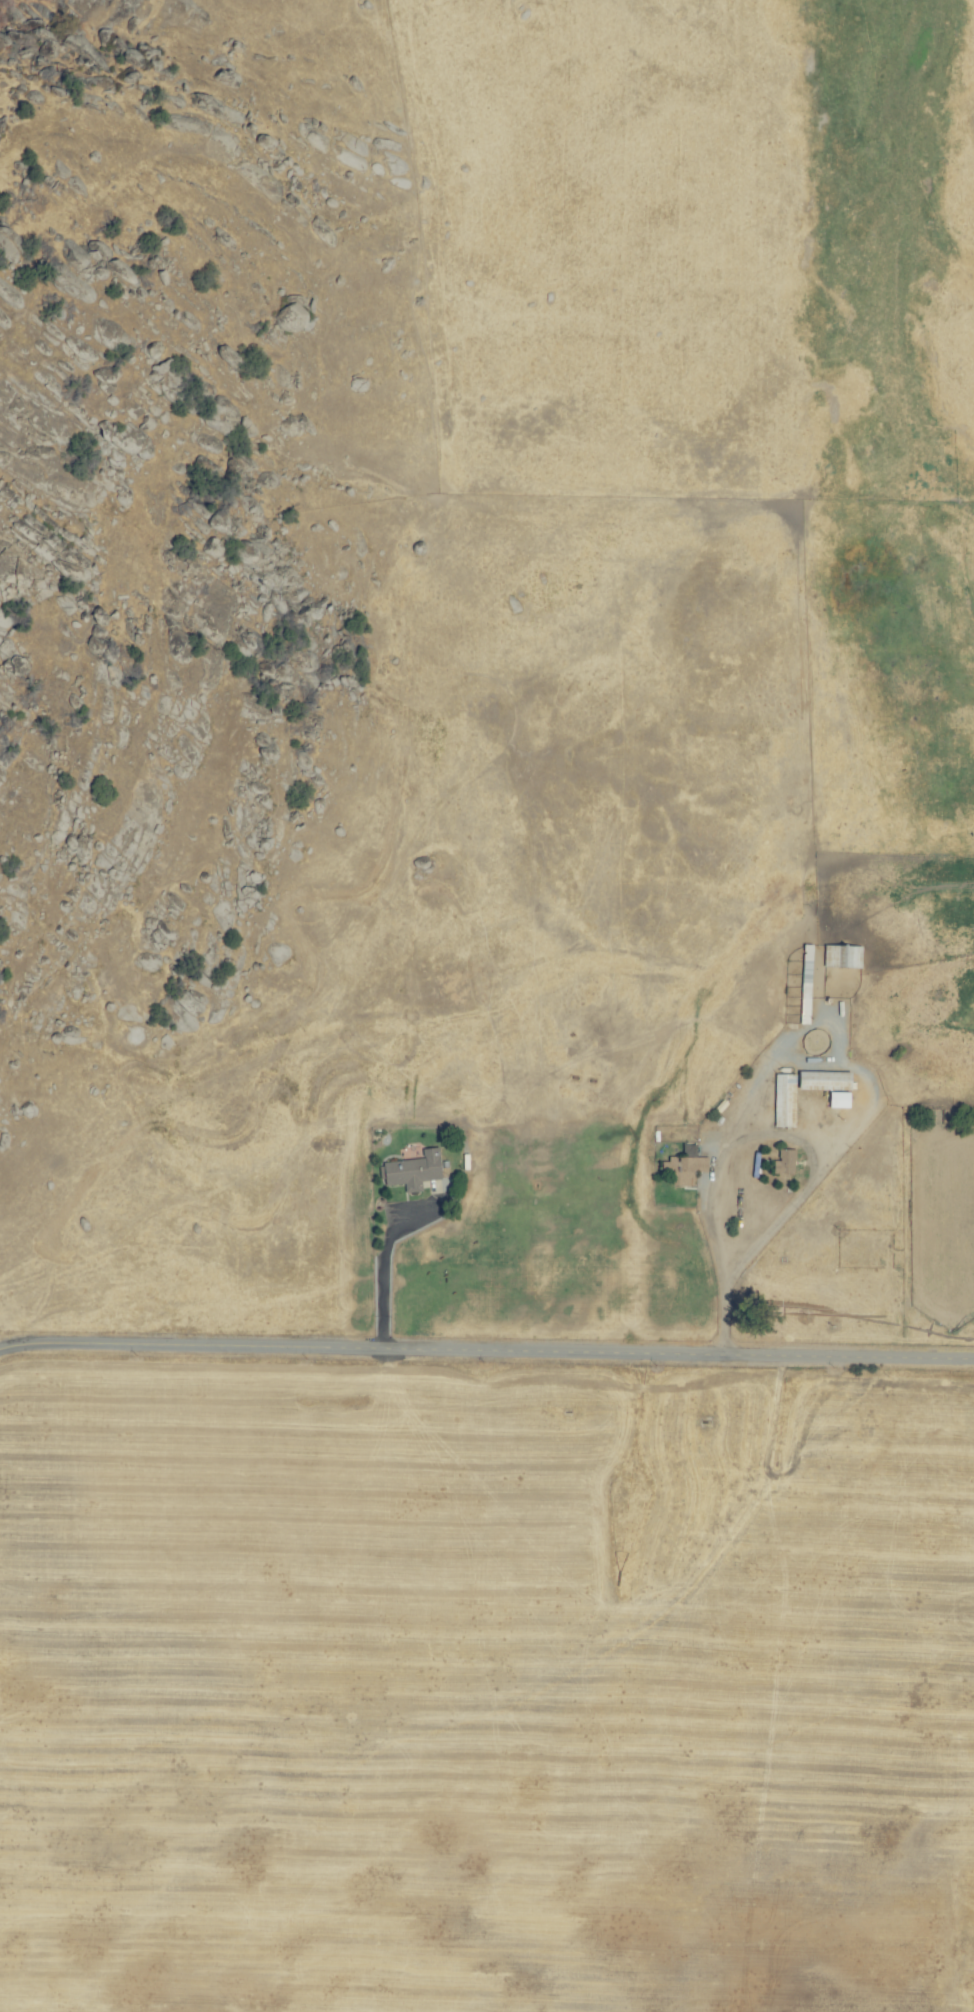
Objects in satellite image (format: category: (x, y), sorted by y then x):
crop: (894, 676)
crop: (546, 999)
building: (828, 1080)
building: (842, 1099)
building: (787, 1100)
building: (787, 1162)
building: (686, 1169)
building: (415, 1170)
road: (728, 1203)
road: (380, 1278)
road: (486, 1349)

